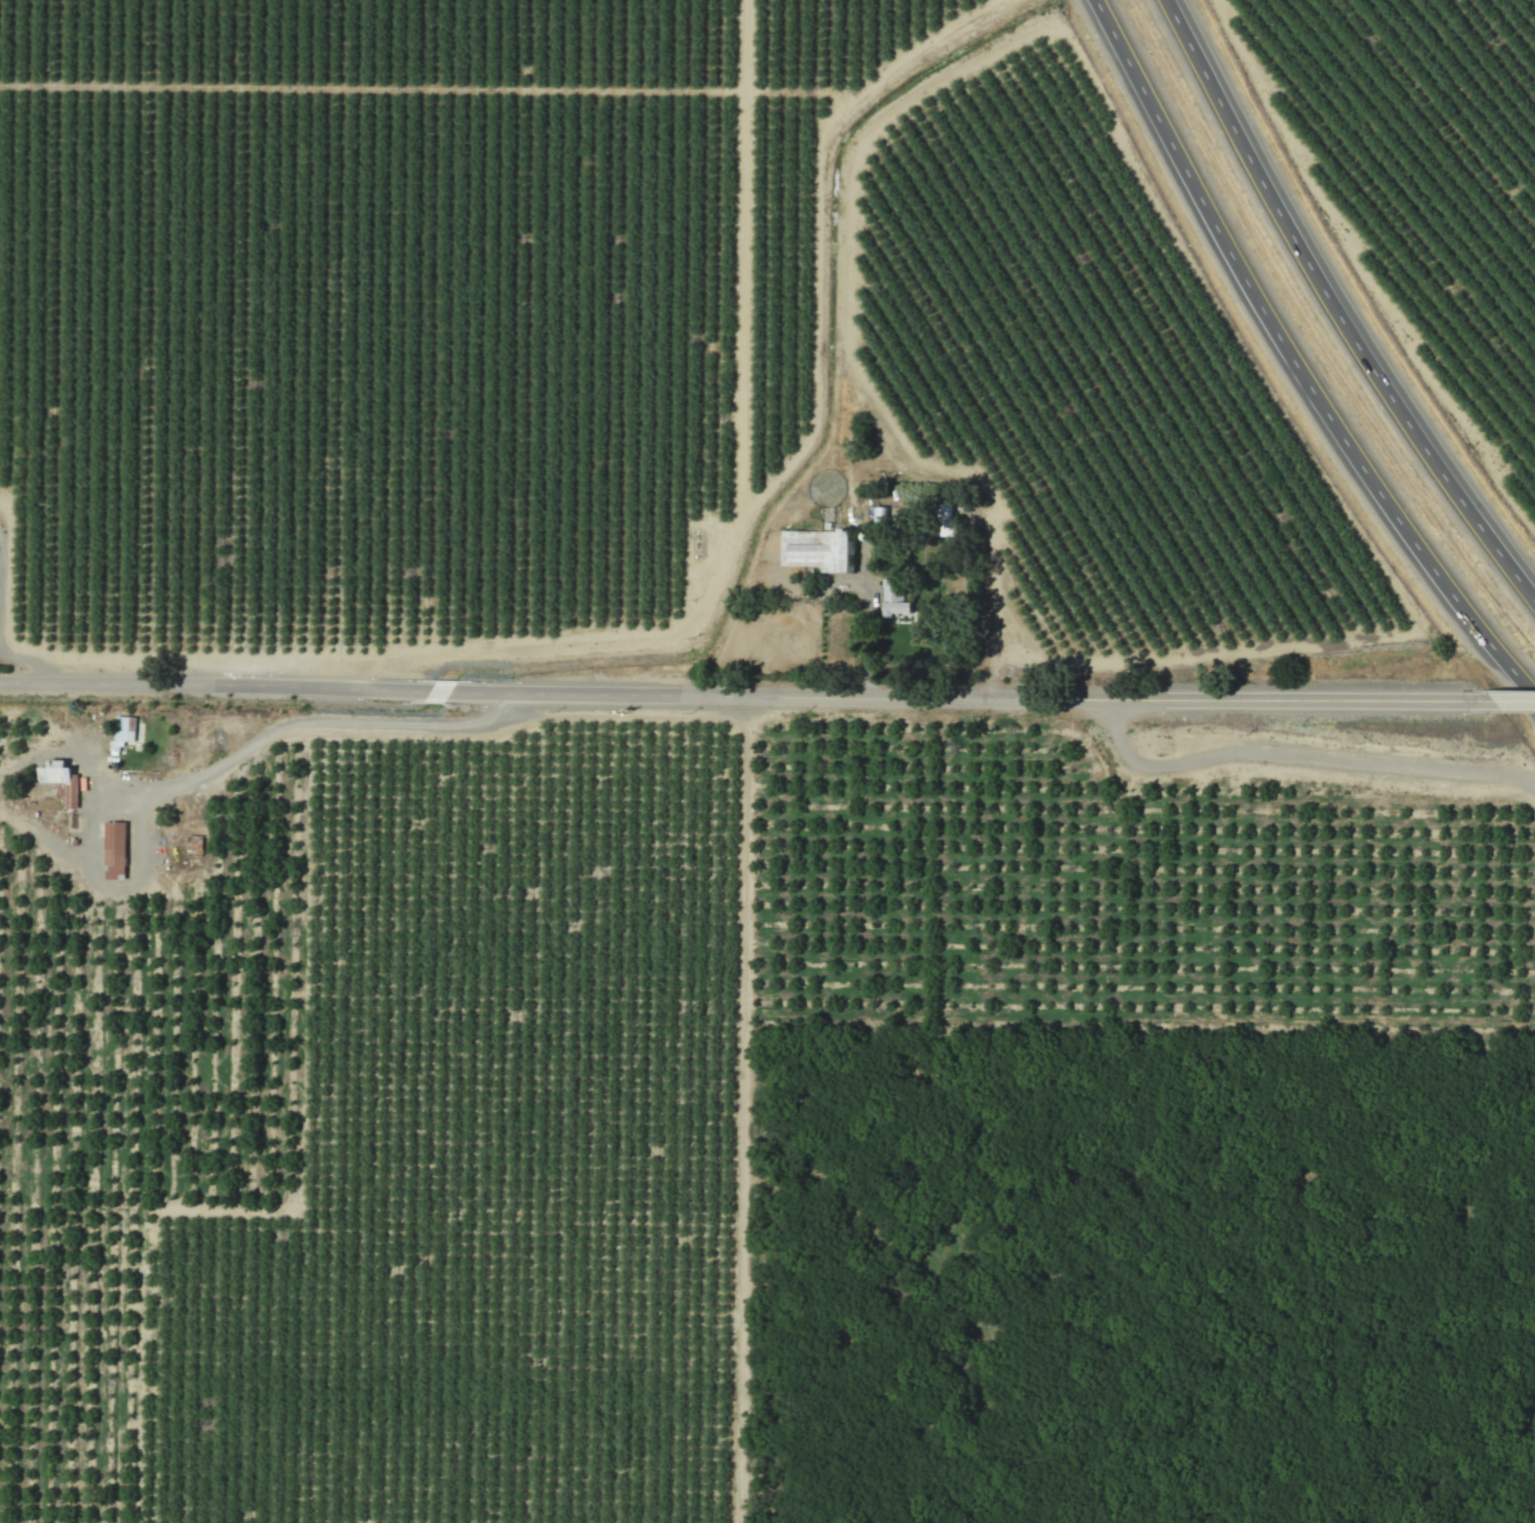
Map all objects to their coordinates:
road: (1338, 306)
road: (1295, 363)
building: (818, 550)
building: (895, 603)
road: (867, 638)
road: (31, 662)
road: (747, 700)
road: (1515, 709)
road: (301, 721)
building: (122, 728)
road: (1304, 756)
building: (60, 779)
building: (114, 850)

